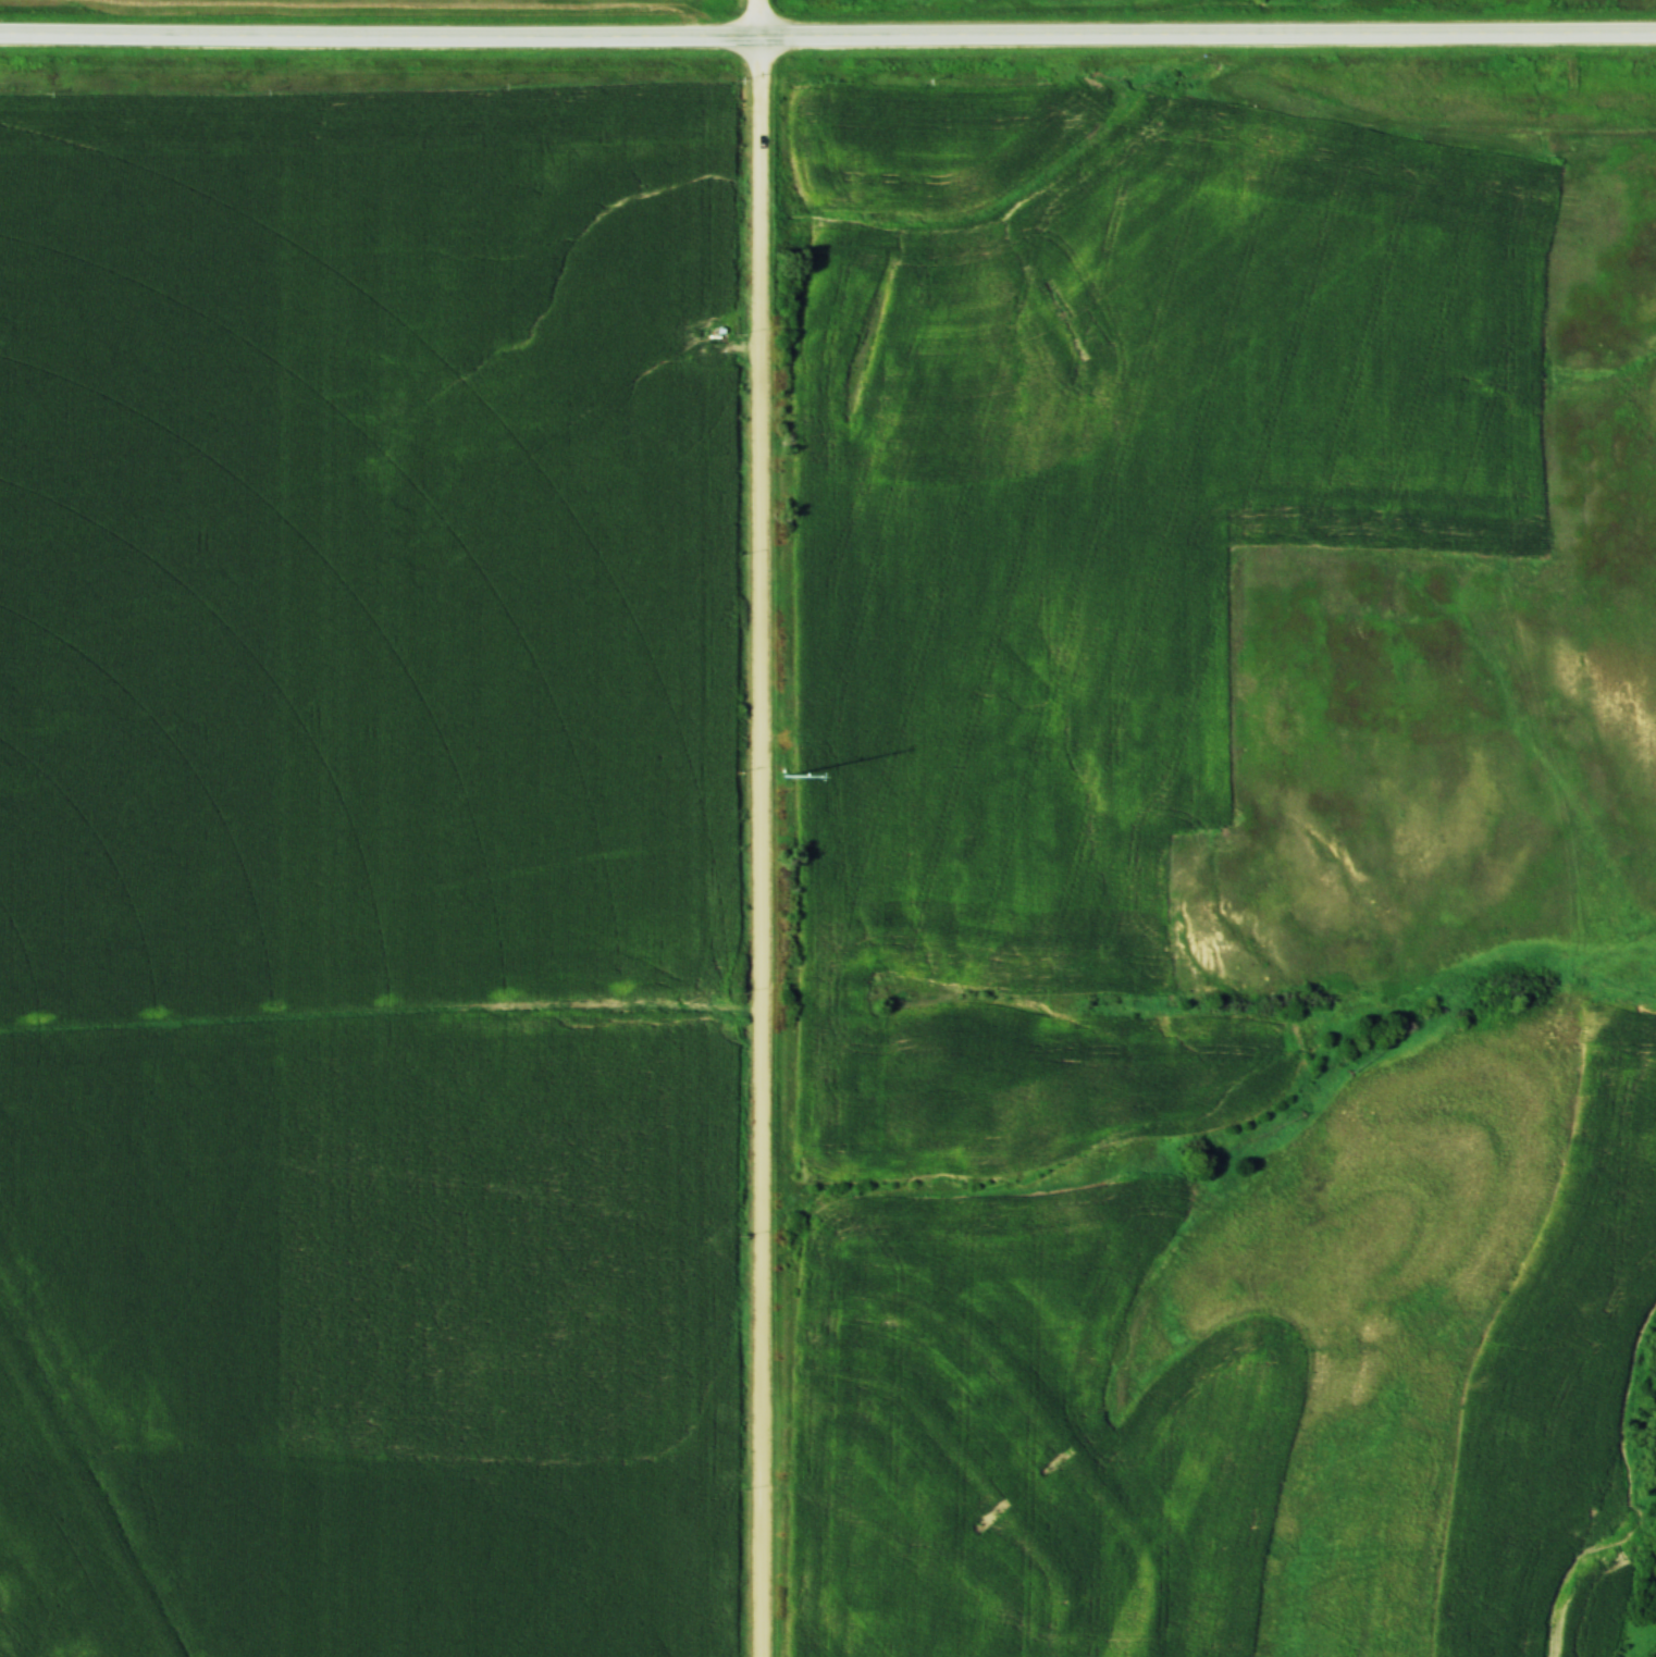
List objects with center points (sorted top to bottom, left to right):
road: (827, 33)
road: (762, 828)

